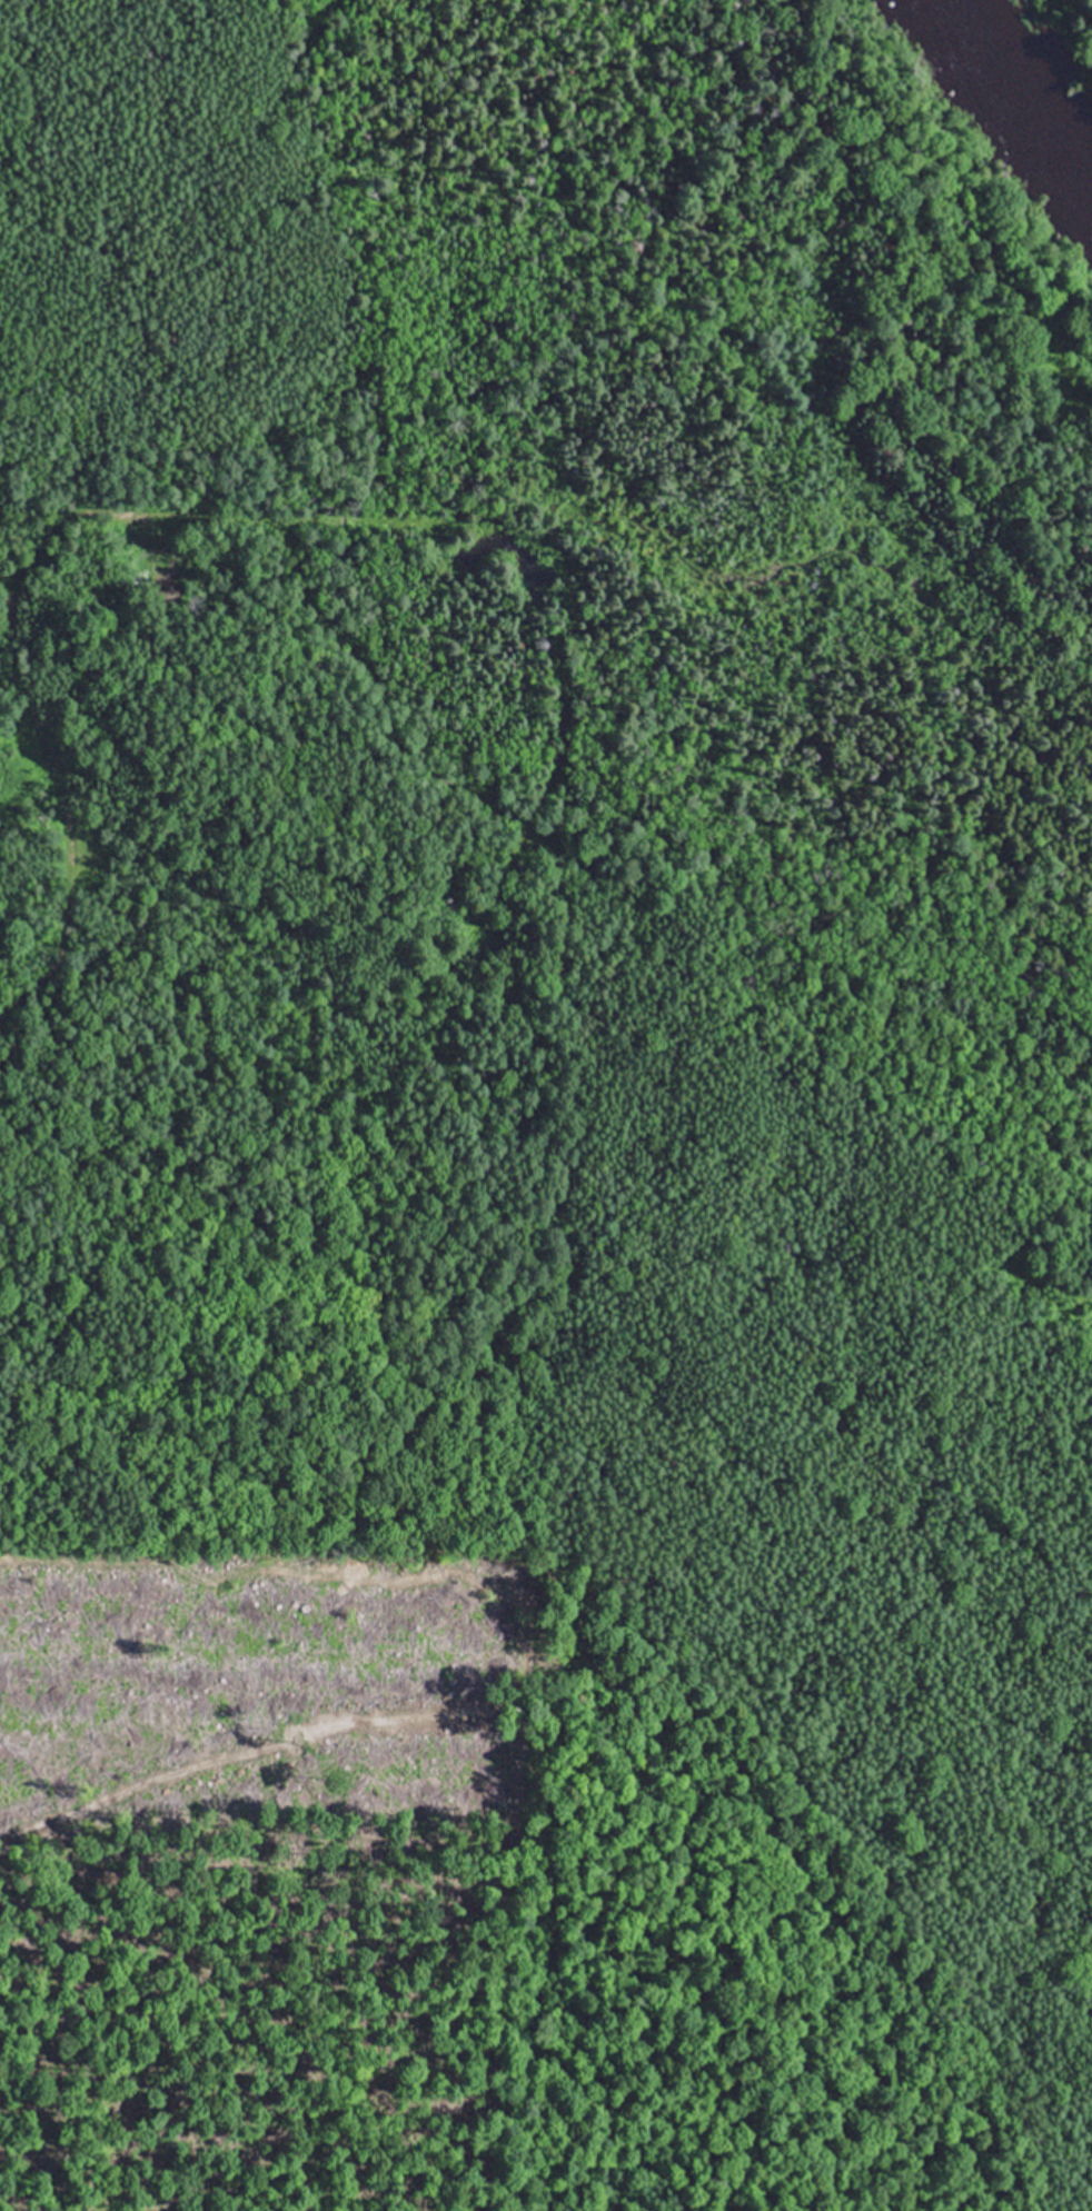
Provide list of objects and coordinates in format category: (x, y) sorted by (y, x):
river: (1023, 80)

